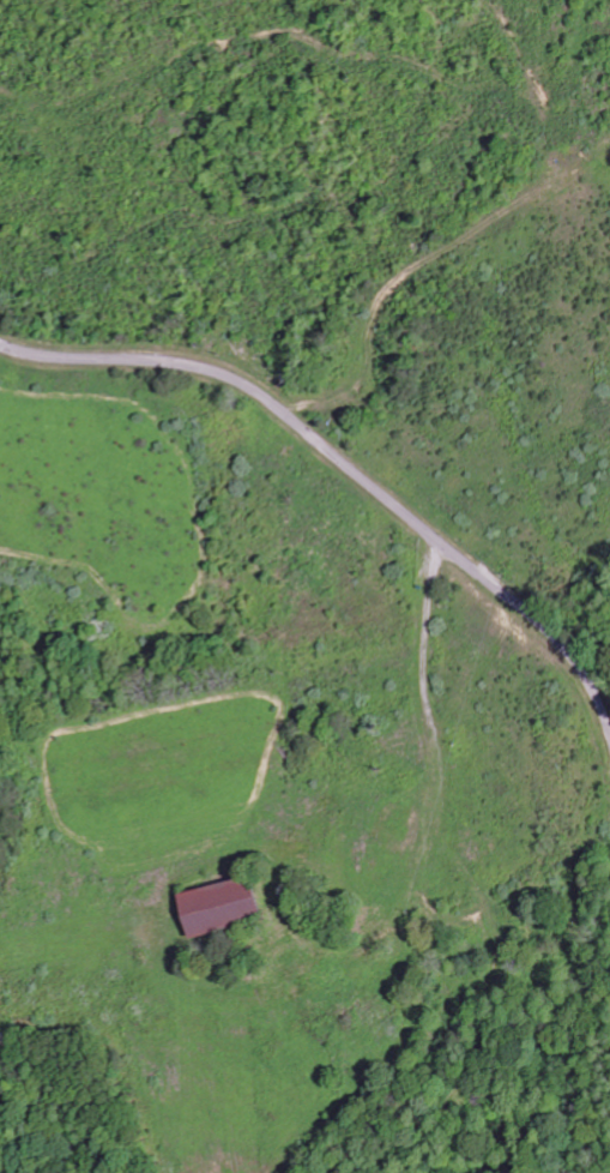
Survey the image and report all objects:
road: (354, 474)
road: (421, 646)
road: (410, 841)
building: (219, 908)
road: (442, 914)

